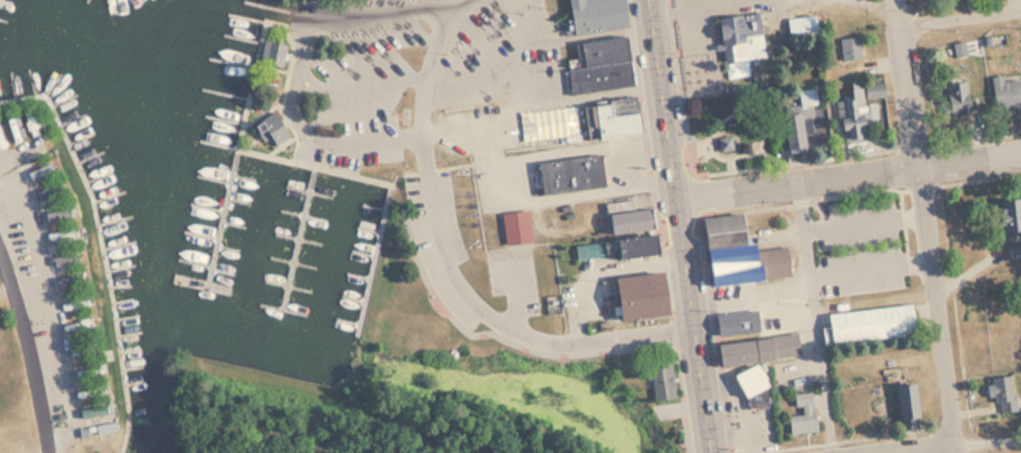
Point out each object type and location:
road: (885, 2)
road: (708, 7)
road: (363, 14)
building: (596, 15)
road: (961, 18)
building: (740, 36)
river: (119, 45)
building: (851, 48)
road: (699, 49)
building: (959, 49)
building: (272, 53)
building: (601, 66)
parking lot: (365, 80)
road: (359, 83)
parking lot: (504, 85)
building: (874, 90)
building: (1006, 92)
building: (956, 97)
building: (615, 118)
building: (800, 121)
building: (851, 121)
building: (273, 128)
road: (305, 129)
park: (735, 130)
road: (737, 135)
road: (764, 136)
road: (974, 139)
building: (724, 142)
building: (566, 165)
building: (39, 169)
road: (709, 175)
road: (849, 176)
road: (982, 180)
building: (46, 190)
building: (57, 211)
building: (1008, 214)
pier: (222, 217)
building: (628, 220)
road: (865, 224)
road: (663, 226)
road: (681, 226)
road: (928, 226)
building: (516, 227)
building: (721, 229)
building: (59, 234)
pier: (299, 236)
building: (635, 245)
parking lot: (862, 245)
building: (1012, 253)
parking lot: (436, 254)
building: (64, 258)
road: (451, 262)
building: (745, 263)
road: (871, 268)
building: (70, 278)
parking lot: (514, 278)
pier: (202, 284)
road: (751, 292)
building: (638, 302)
building: (75, 303)
road: (957, 308)
road: (814, 318)
building: (736, 320)
building: (81, 323)
building: (871, 323)
road: (37, 335)
building: (84, 349)
building: (757, 349)
building: (88, 371)
building: (749, 379)
building: (661, 380)
building: (1001, 391)
building: (92, 392)
building: (757, 393)
building: (906, 403)
building: (91, 411)
building: (802, 414)
building: (97, 426)
road: (988, 441)
road: (929, 449)
road: (444, 450)

